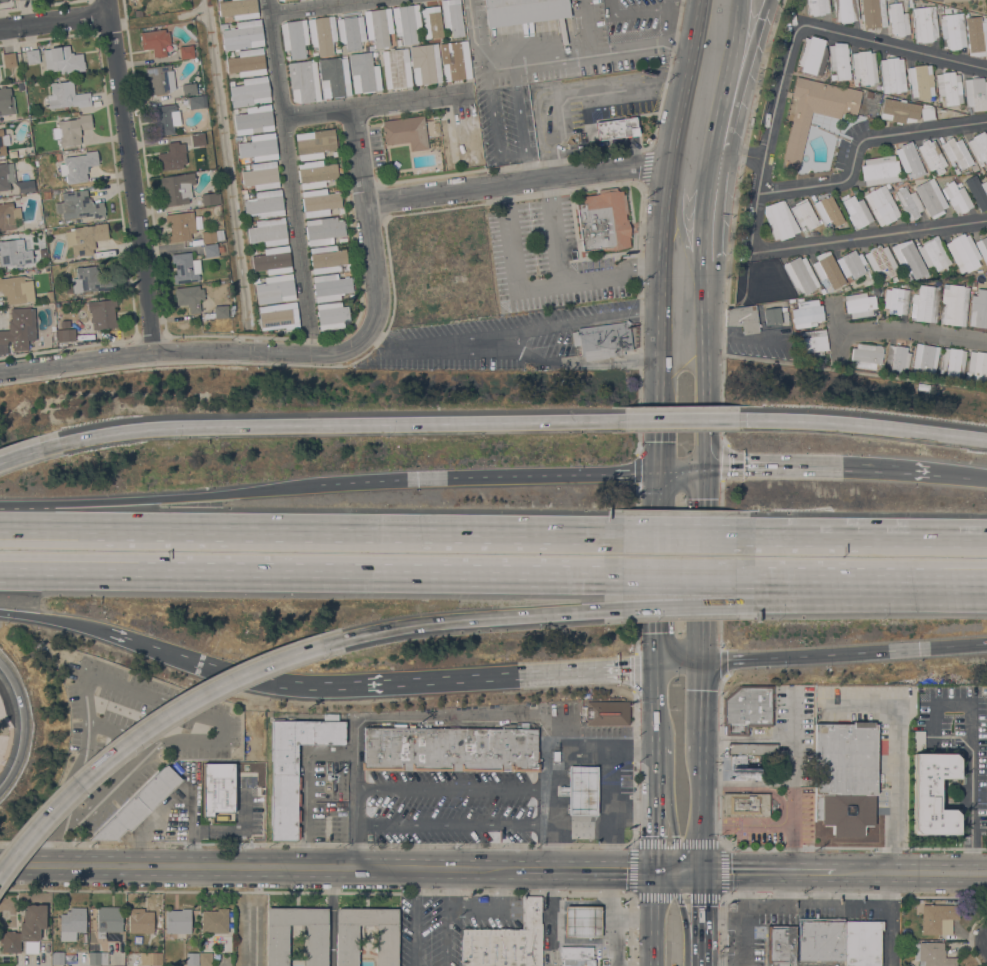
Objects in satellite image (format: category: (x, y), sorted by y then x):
building: (3, 0)
building: (280, 0)
building: (285, 0)
park: (965, 5)
building: (817, 6)
road: (324, 7)
building: (238, 8)
road: (613, 9)
building: (845, 10)
building: (524, 11)
building: (138, 12)
building: (873, 13)
road: (643, 15)
building: (452, 17)
building: (898, 19)
road: (55, 21)
road: (669, 21)
building: (407, 22)
building: (431, 22)
building: (924, 23)
building: (378, 26)
building: (953, 30)
building: (350, 31)
building: (322, 34)
road: (473, 34)
building: (243, 35)
building: (976, 35)
building: (295, 37)
building: (155, 41)
road: (694, 41)
road: (893, 44)
building: (186, 51)
road: (590, 54)
building: (812, 55)
building: (32, 56)
building: (9, 59)
building: (63, 60)
building: (455, 60)
building: (839, 60)
building: (247, 62)
building: (425, 63)
building: (864, 66)
building: (396, 68)
building: (364, 72)
building: (892, 74)
building: (334, 76)
road: (725, 76)
road: (741, 77)
building: (160, 79)
building: (304, 81)
building: (920, 81)
road: (576, 84)
road: (704, 87)
building: (949, 87)
building: (189, 88)
building: (250, 91)
building: (975, 93)
building: (67, 95)
road: (416, 100)
building: (6, 101)
building: (197, 101)
road: (519, 109)
building: (904, 111)
building: (815, 112)
road: (321, 114)
building: (165, 118)
building: (254, 120)
road: (494, 124)
building: (617, 128)
building: (72, 129)
building: (406, 131)
road: (767, 134)
building: (197, 139)
building: (3, 141)
road: (859, 141)
building: (314, 143)
building: (979, 146)
building: (258, 147)
building: (955, 152)
road: (736, 154)
road: (363, 155)
building: (932, 155)
building: (57, 156)
building: (172, 156)
building: (909, 159)
building: (78, 166)
road: (290, 166)
road: (528, 167)
building: (880, 170)
building: (315, 173)
building: (6, 174)
building: (261, 175)
road: (132, 176)
road: (537, 180)
building: (27, 186)
building: (177, 188)
building: (979, 193)
building: (46, 195)
building: (931, 197)
building: (957, 197)
building: (210, 198)
building: (319, 202)
building: (909, 202)
building: (265, 203)
building: (78, 205)
building: (881, 205)
road: (703, 206)
building: (828, 210)
building: (856, 210)
building: (804, 214)
building: (8, 215)
building: (603, 220)
road: (732, 220)
building: (780, 220)
building: (181, 225)
road: (680, 225)
building: (324, 230)
road: (553, 230)
building: (268, 231)
building: (208, 235)
road: (869, 236)
building: (86, 238)
building: (982, 246)
road: (661, 248)
building: (212, 249)
building: (14, 252)
building: (963, 252)
building: (933, 253)
building: (327, 258)
building: (909, 259)
building: (273, 260)
building: (881, 261)
building: (851, 263)
building: (183, 268)
building: (828, 269)
road: (376, 270)
building: (800, 274)
building: (90, 281)
building: (331, 286)
road: (538, 286)
building: (68, 288)
building: (276, 288)
building: (16, 289)
building: (48, 295)
building: (189, 297)
building: (896, 300)
building: (925, 303)
building: (859, 304)
building: (954, 304)
building: (50, 305)
building: (978, 309)
building: (221, 310)
building: (807, 313)
building: (103, 314)
building: (332, 314)
building: (772, 315)
building: (279, 316)
building: (743, 318)
road: (576, 321)
building: (18, 329)
road: (906, 330)
building: (65, 332)
building: (603, 339)
road: (742, 339)
building: (813, 343)
road: (431, 345)
road: (187, 351)
building: (866, 355)
building: (897, 358)
building: (925, 359)
building: (953, 363)
road: (704, 364)
road: (574, 365)
building: (978, 366)
road: (854, 372)
road: (680, 419)
road: (340, 424)
road: (862, 424)
traffic signals: (659, 440)
road: (659, 443)
road: (29, 451)
road: (723, 461)
road: (816, 466)
traffic signals: (704, 468)
road: (681, 469)
road: (958, 475)
road: (482, 476)
road: (704, 488)
road: (659, 489)
road: (721, 493)
road: (153, 497)
road: (66, 525)
road: (478, 528)
road: (905, 532)
road: (354, 574)
road: (848, 578)
road: (644, 593)
road: (48, 617)
road: (460, 620)
road: (720, 633)
road: (703, 641)
road: (153, 646)
road: (845, 652)
road: (723, 660)
traffic signals: (703, 662)
road: (679, 663)
traffic signals: (655, 664)
road: (505, 674)
road: (281, 681)
road: (702, 706)
building: (747, 709)
building: (605, 713)
road: (452, 716)
road: (150, 724)
road: (23, 725)
parking lot: (129, 736)
road: (747, 739)
building: (917, 740)
road: (655, 746)
building: (450, 748)
building: (752, 748)
road: (971, 751)
building: (556, 755)
building: (755, 758)
road: (895, 759)
building: (294, 766)
building: (742, 769)
road: (354, 770)
building: (845, 776)
road: (794, 780)
road: (747, 782)
building: (218, 787)
road: (308, 788)
road: (453, 788)
building: (581, 790)
road: (759, 790)
road: (667, 791)
building: (933, 793)
building: (745, 804)
building: (139, 805)
road: (550, 806)
road: (634, 806)
road: (700, 811)
road: (747, 824)
road: (453, 825)
road: (355, 828)
road: (722, 844)
road: (633, 845)
road: (768, 847)
road: (259, 867)
road: (587, 870)
traffic signals: (656, 871)
road: (678, 871)
road: (767, 871)
traffic signals: (700, 872)
road: (911, 872)
road: (447, 887)
road: (501, 887)
road: (610, 894)
road: (550, 895)
road: (856, 896)
road: (724, 897)
road: (846, 902)
road: (783, 904)
road: (474, 906)
road: (683, 914)
road: (746, 915)
road: (331, 917)
road: (416, 917)
road: (655, 918)
road: (700, 918)
building: (938, 918)
building: (108, 919)
road: (555, 919)
road: (722, 919)
road: (892, 919)
building: (214, 920)
building: (140, 921)
building: (178, 921)
building: (582, 921)
building: (72, 923)
building: (26, 930)
road: (722, 931)
road: (446, 936)
road: (255, 937)
road: (611, 937)
road: (969, 937)
building: (820, 938)
road: (580, 940)
building: (506, 941)
building: (862, 942)
building: (780, 944)
building: (277, 945)
building: (346, 945)
building: (932, 954)
building: (576, 956)
building: (57, 957)
building: (98, 958)
building: (151, 958)
building: (192, 958)
building: (205, 959)
road: (722, 960)

